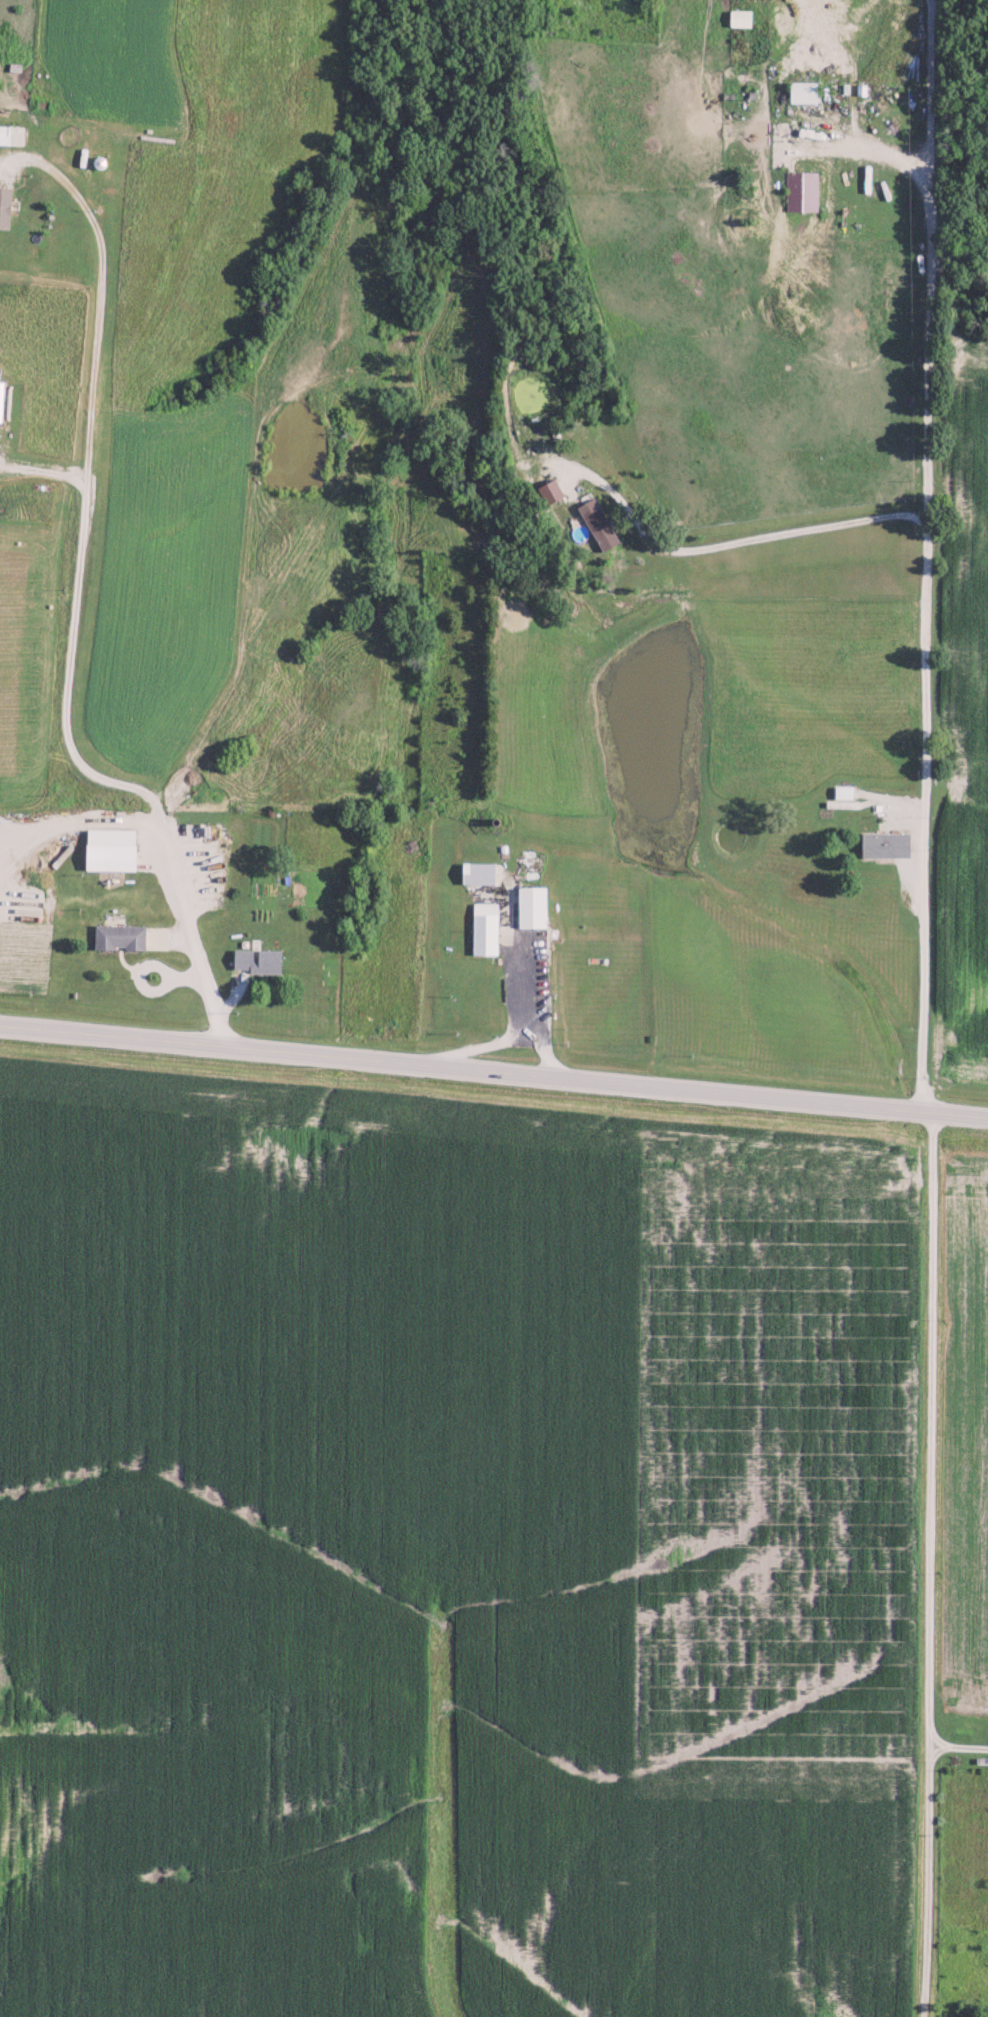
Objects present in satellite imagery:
building: (744, 17)
building: (808, 92)
building: (14, 134)
building: (802, 190)
building: (6, 207)
building: (2, 400)
building: (554, 491)
building: (601, 524)
building: (889, 844)
building: (116, 849)
building: (481, 873)
building: (536, 907)
building: (488, 928)
building: (123, 937)
building: (262, 960)
road: (493, 1070)

